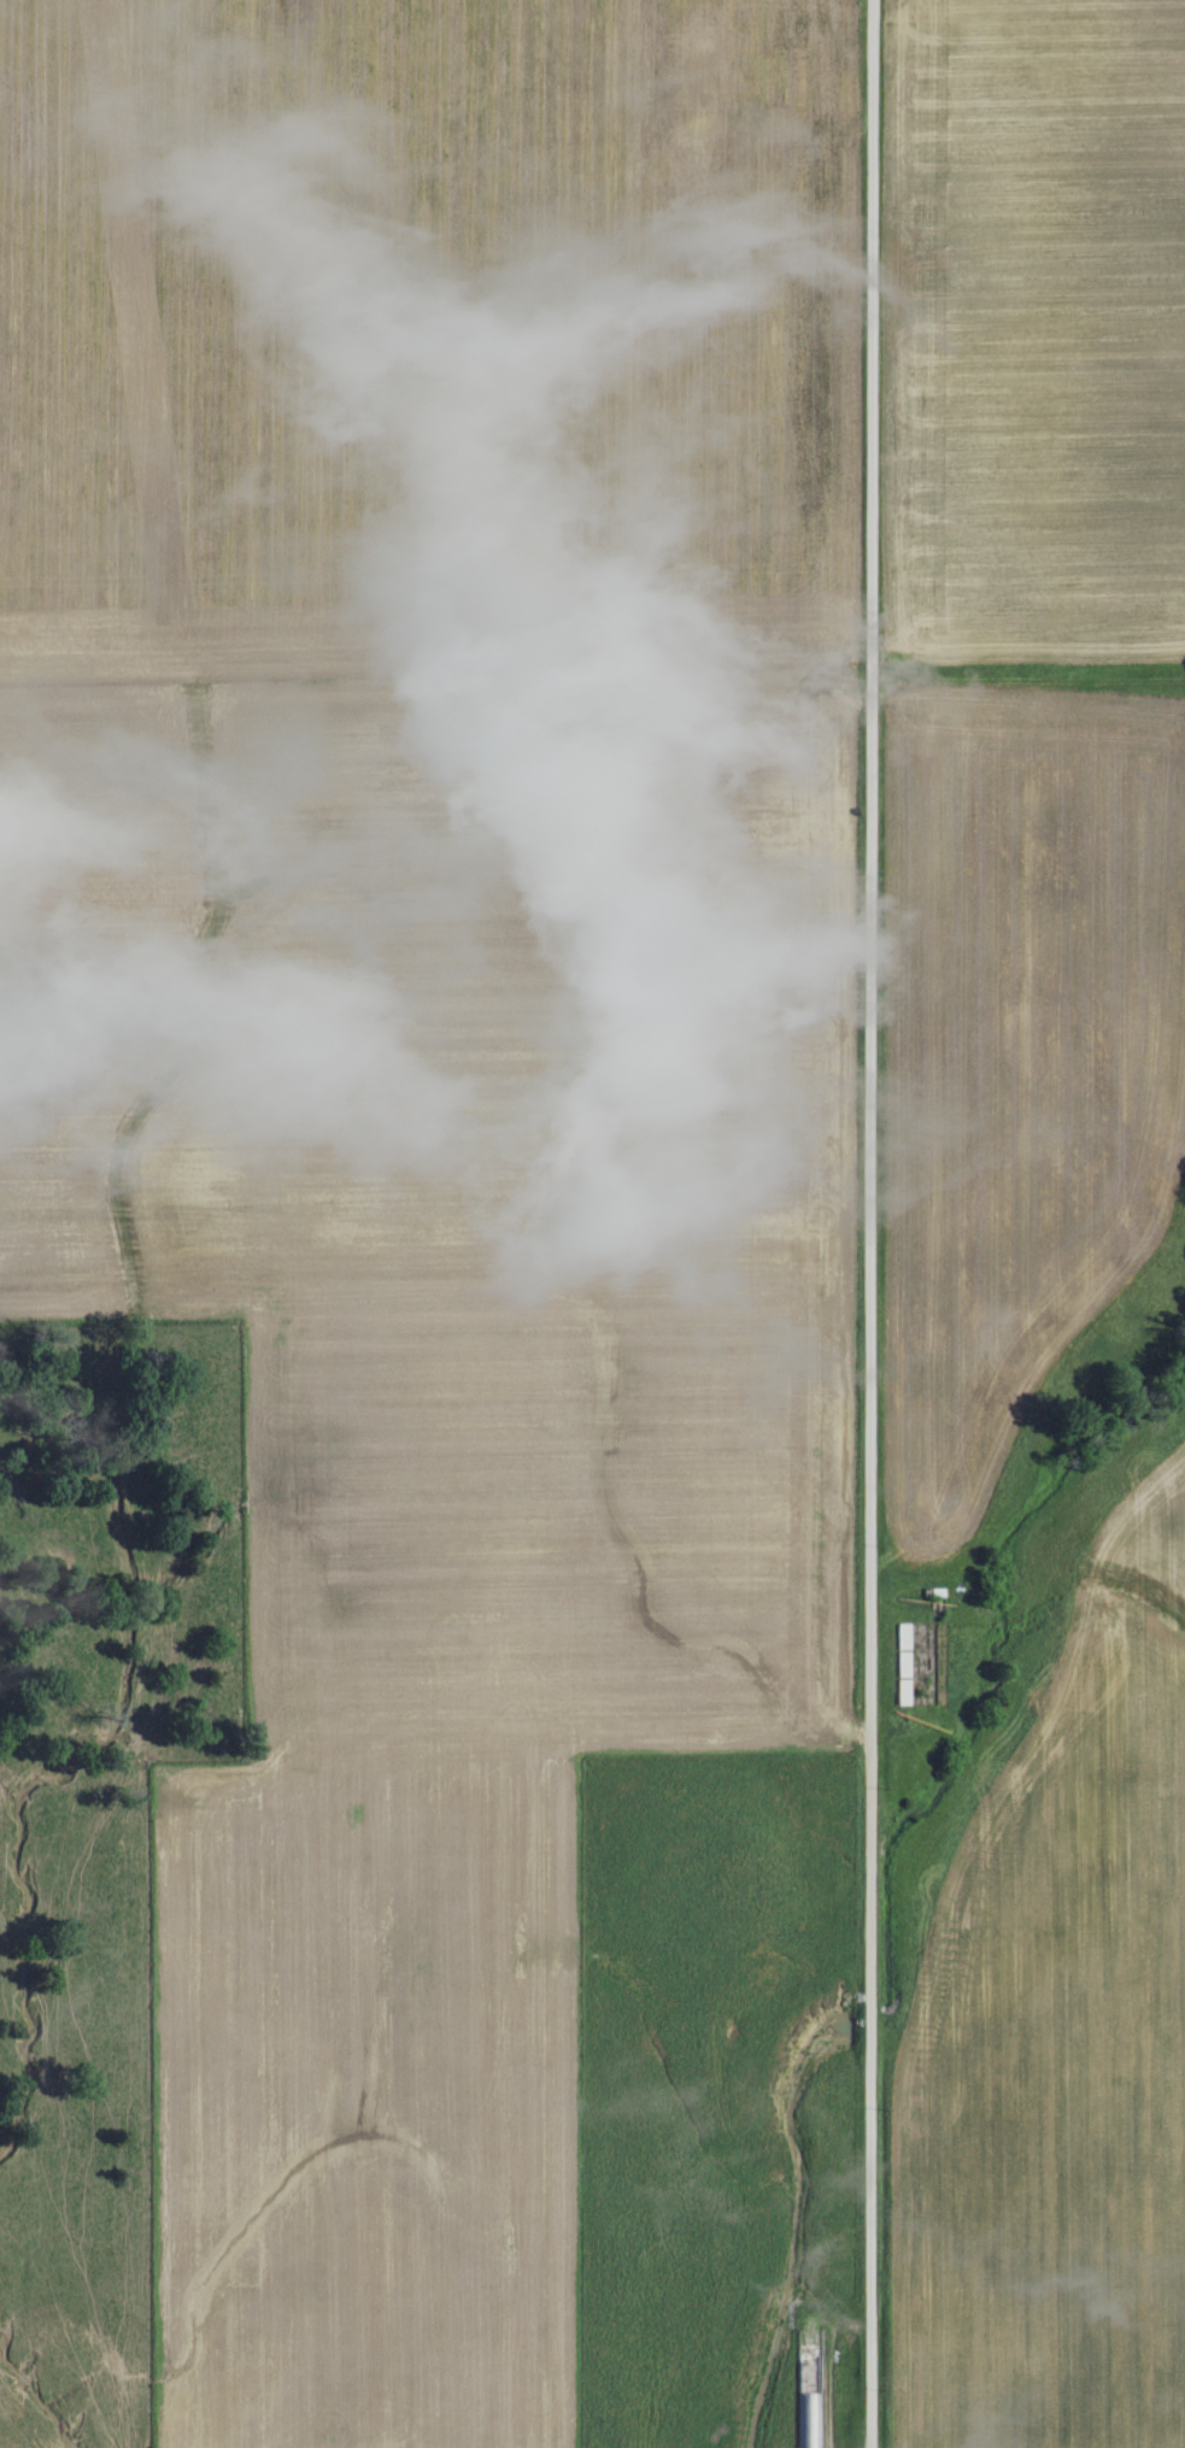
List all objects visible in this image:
road: (869, 1223)

